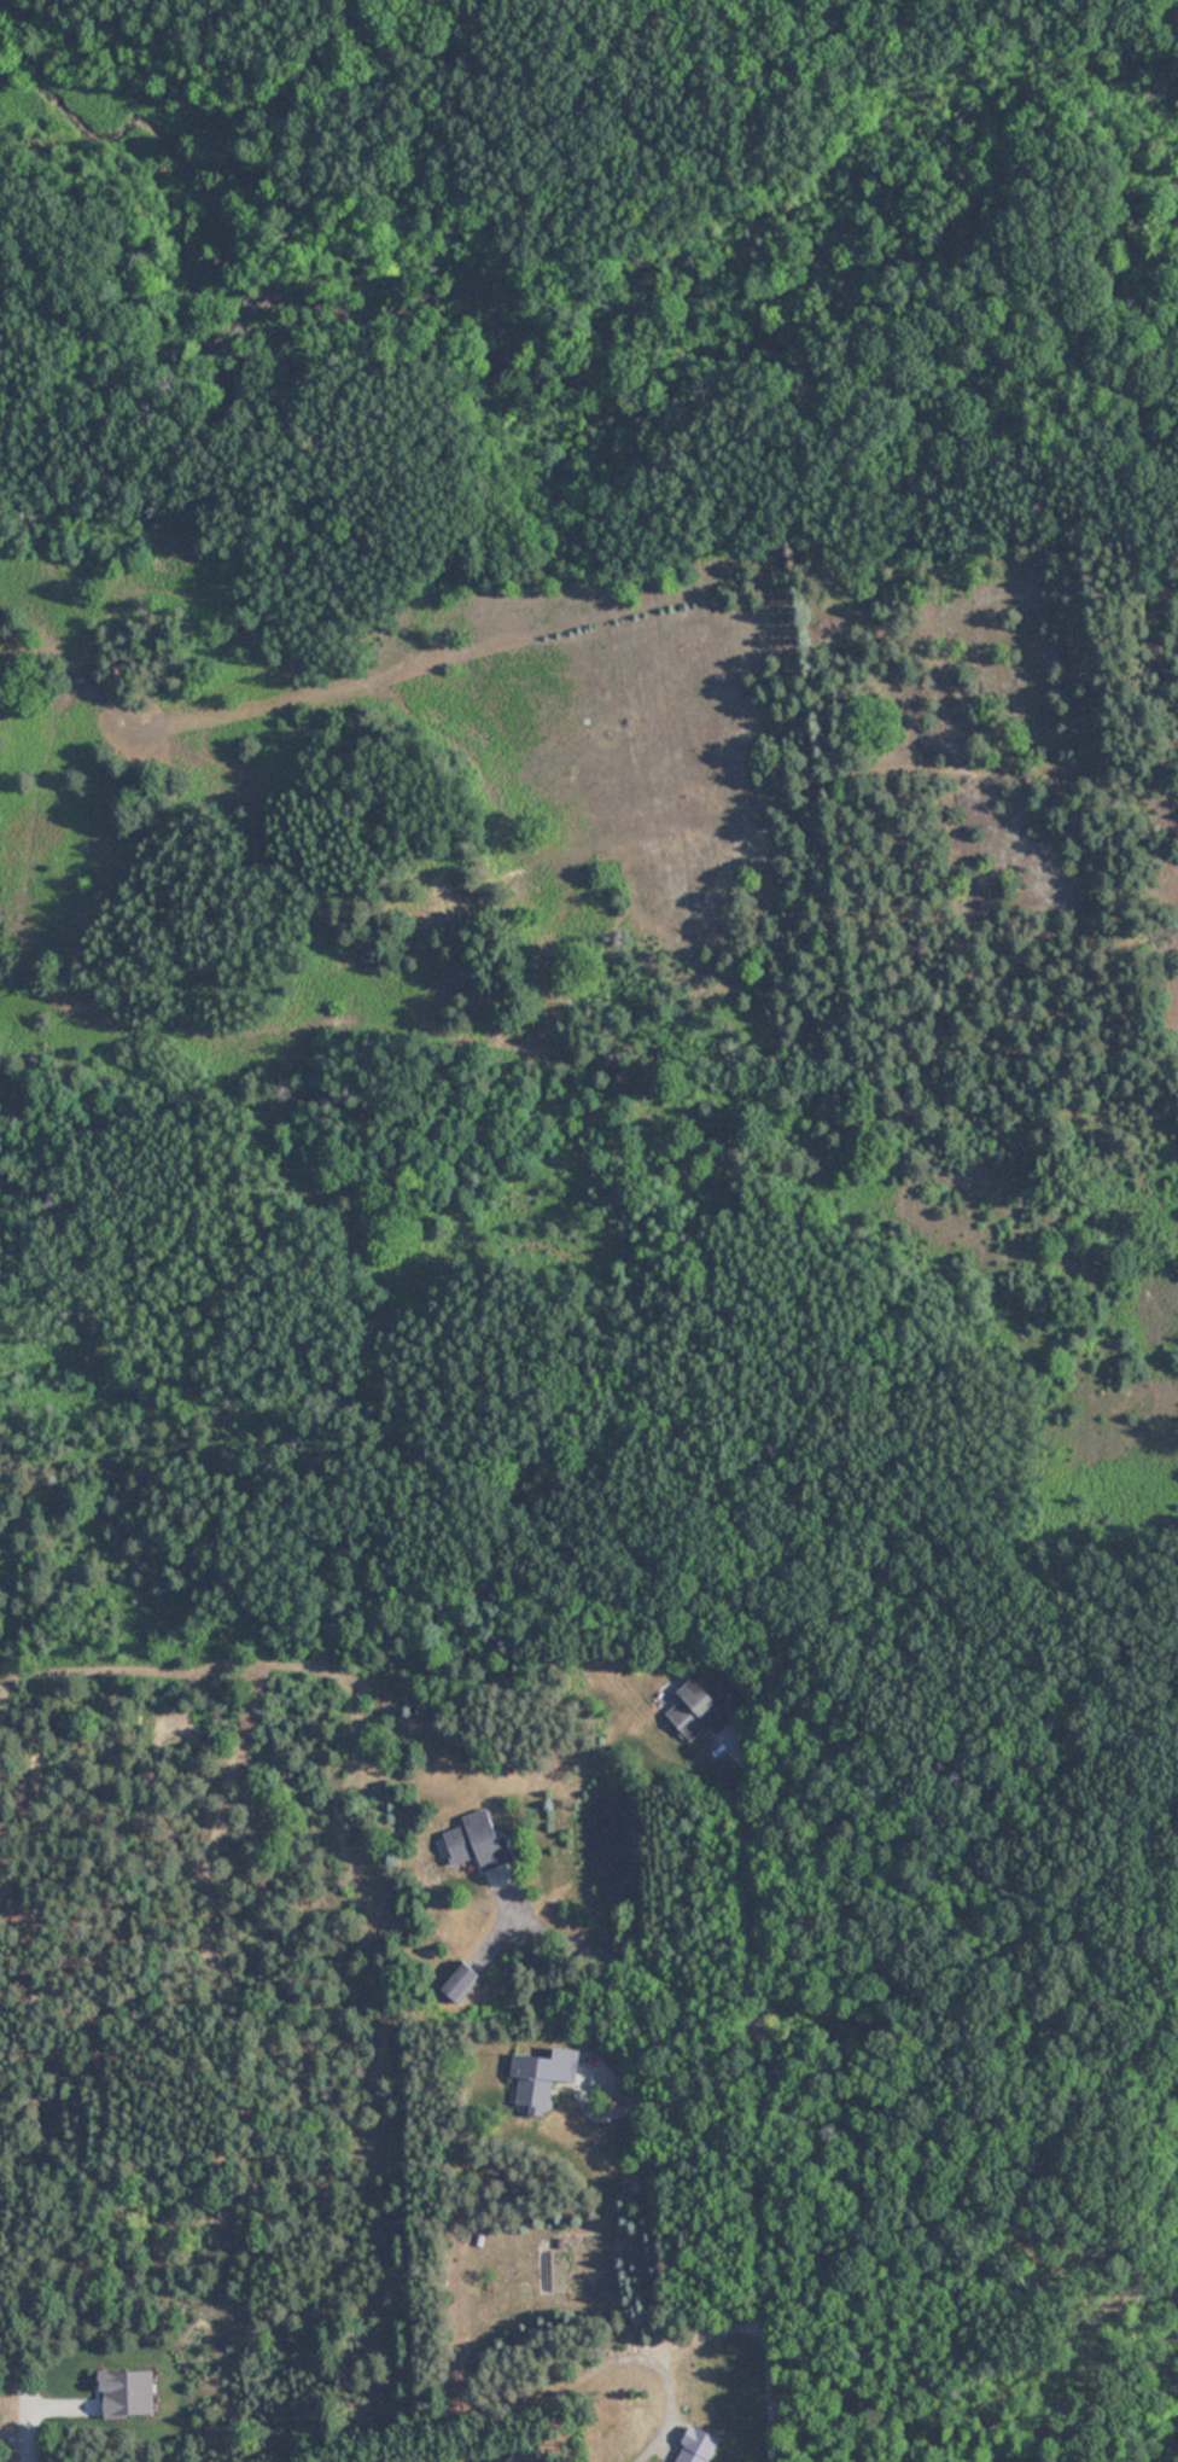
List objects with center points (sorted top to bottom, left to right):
building: (701, 1710)
building: (479, 1840)
building: (461, 1979)
building: (544, 2078)
road: (777, 2108)
road: (21, 2457)

